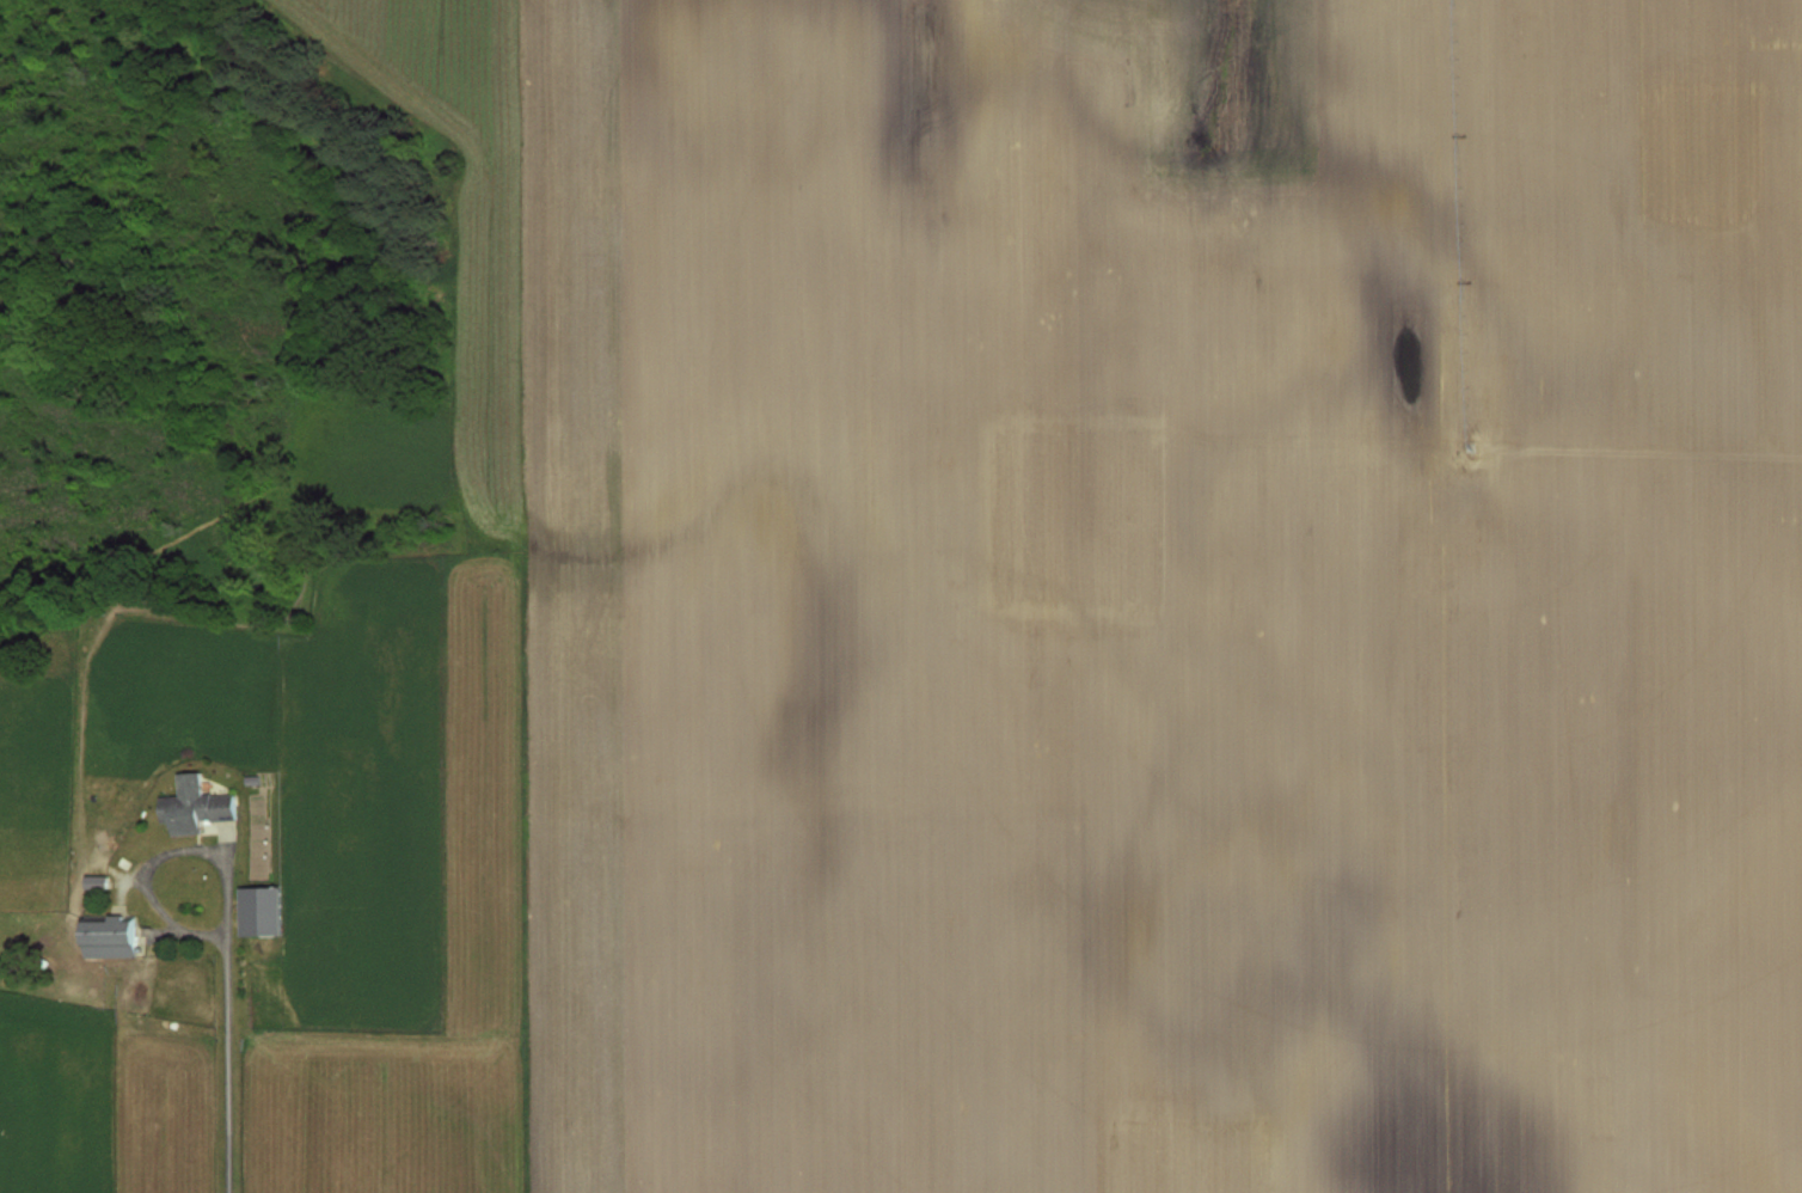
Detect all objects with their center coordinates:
building: (194, 806)
road: (165, 849)
building: (108, 935)
road: (231, 1060)

